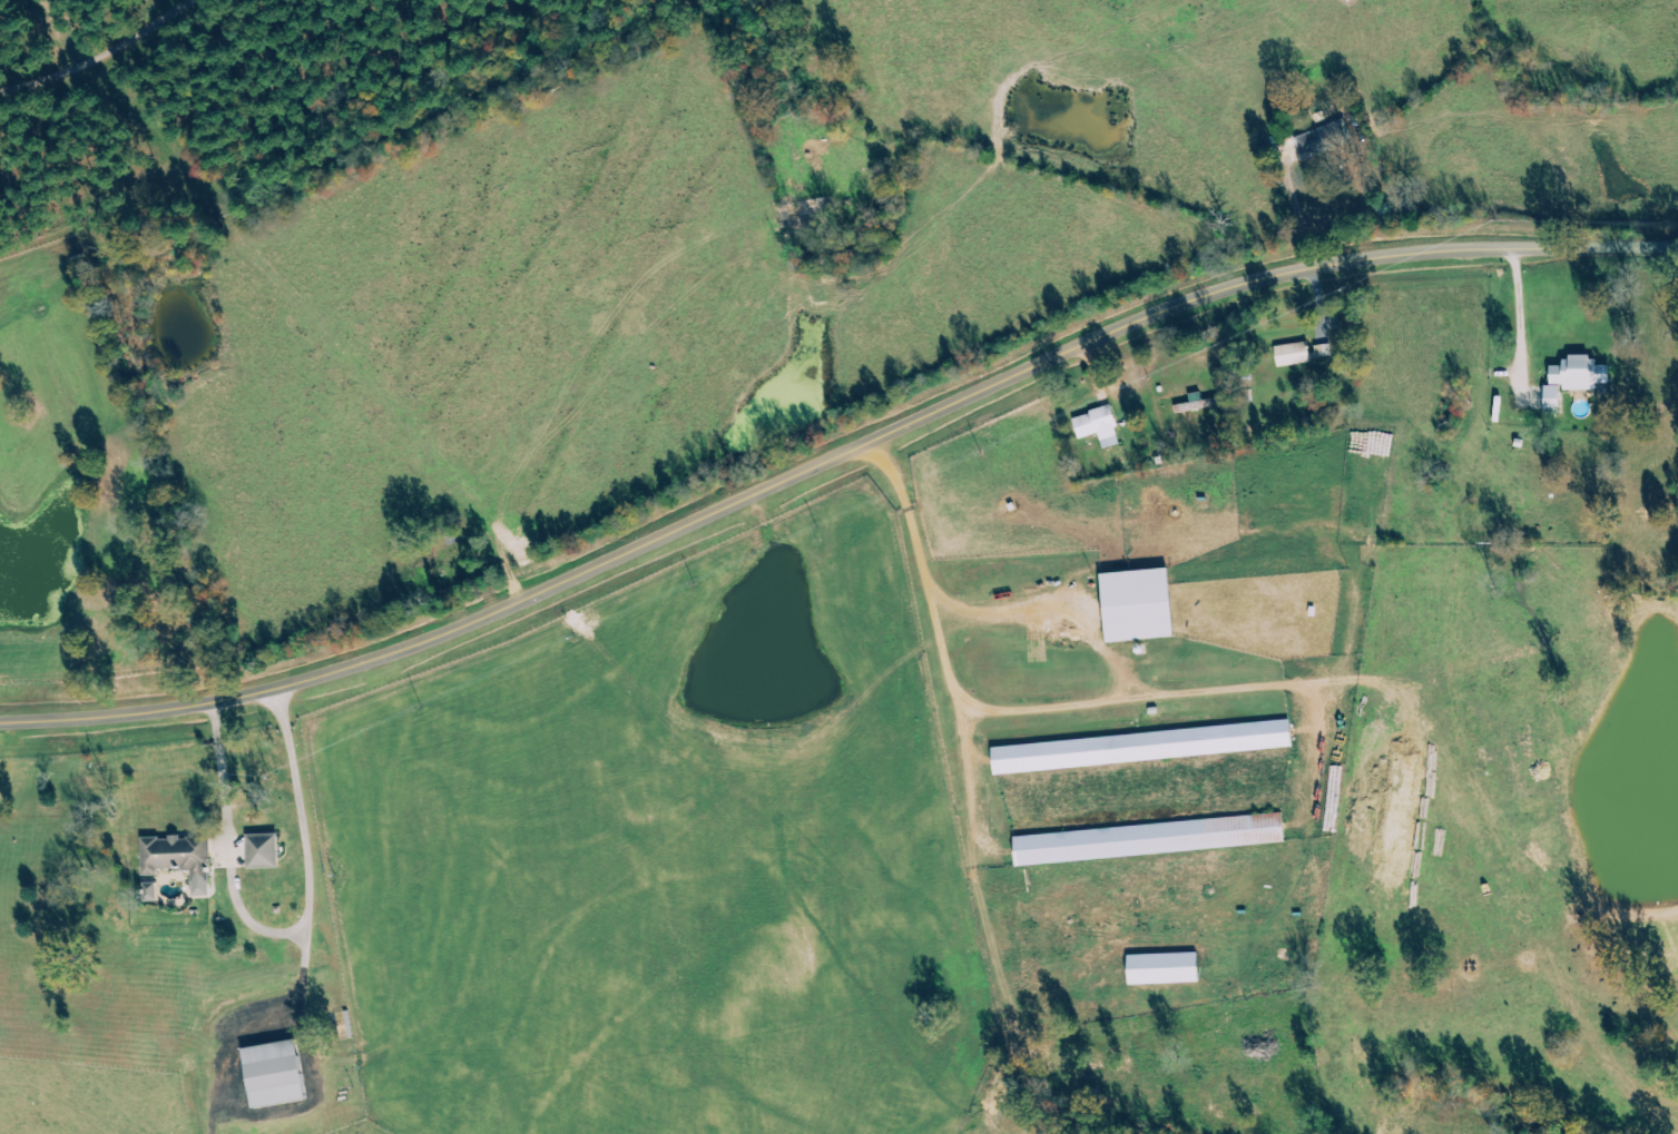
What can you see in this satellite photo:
building: (1325, 137)
road: (1603, 257)
building: (1326, 349)
building: (1296, 353)
building: (1583, 373)
building: (1557, 398)
building: (1101, 425)
road: (767, 489)
building: (1141, 604)
building: (1141, 747)
building: (266, 850)
building: (183, 858)
building: (1167, 968)
building: (277, 1073)

